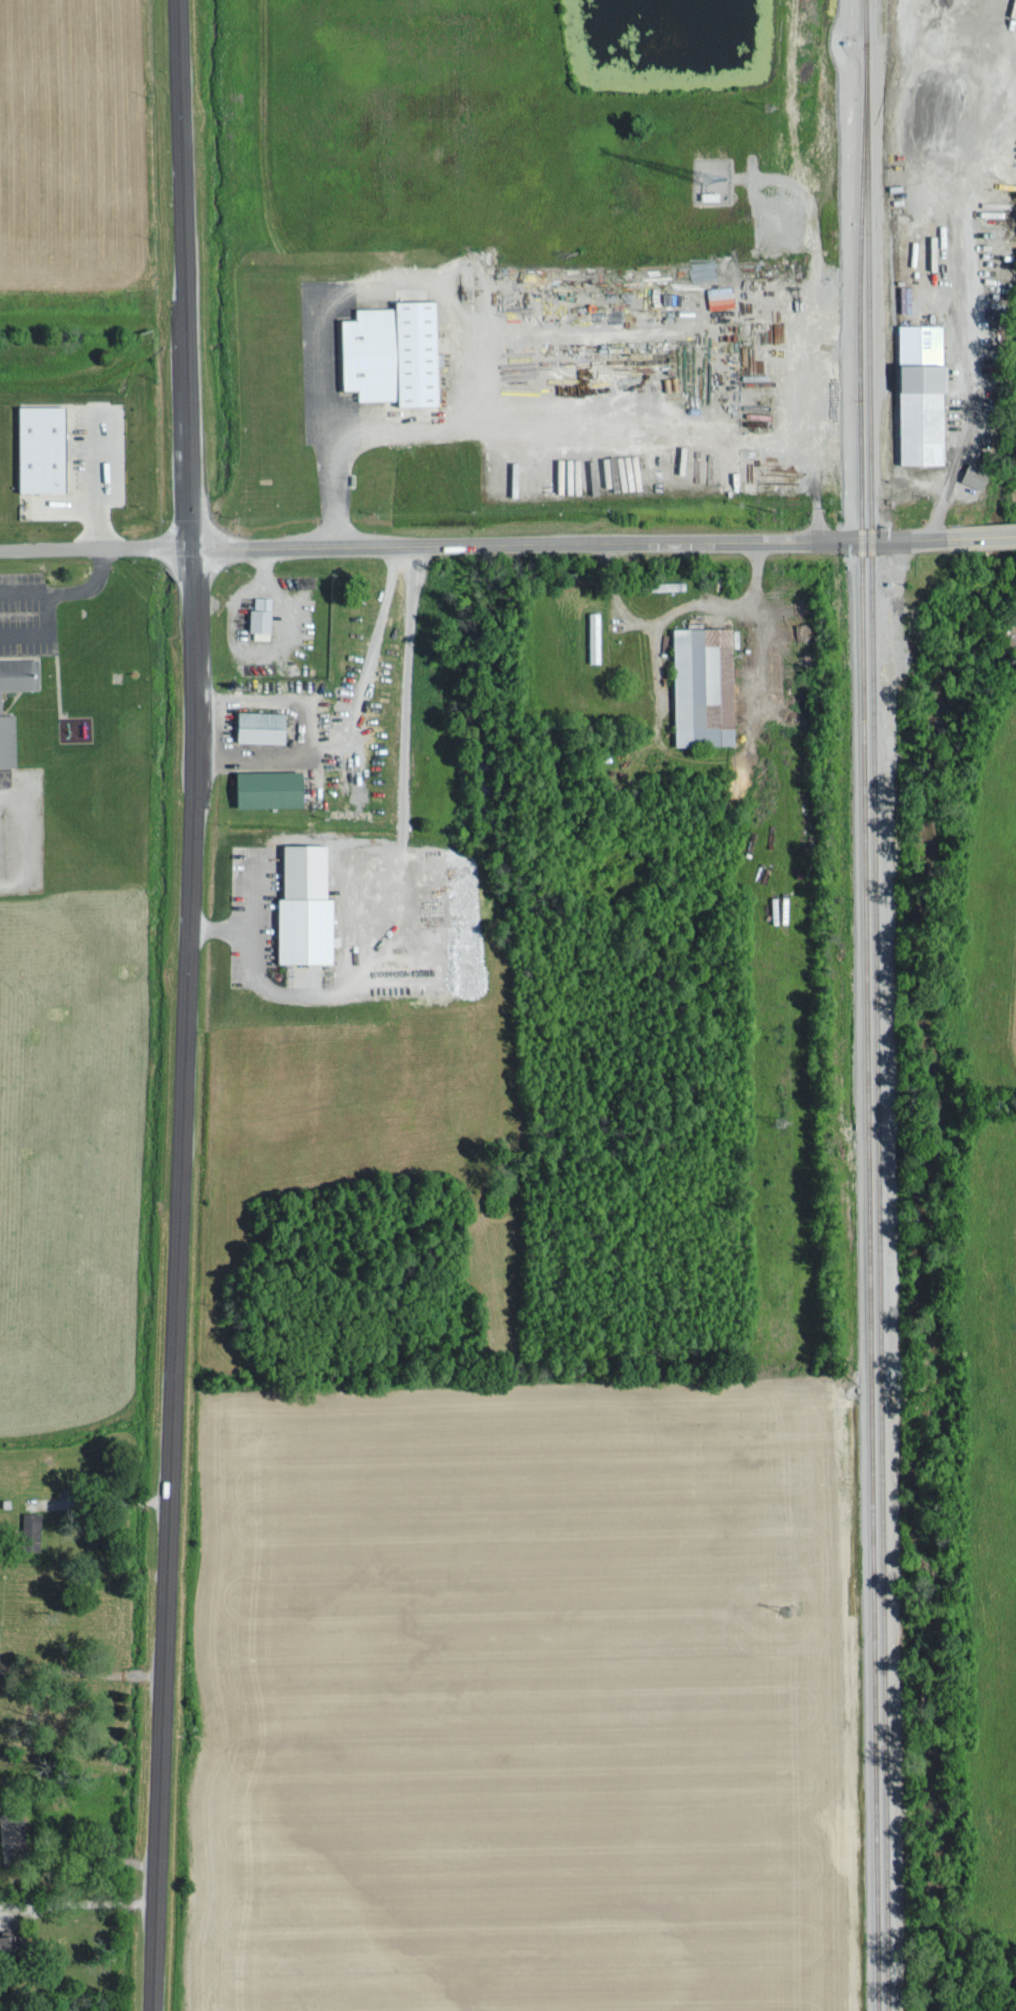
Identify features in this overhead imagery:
building: (711, 194)
building: (721, 295)
building: (395, 352)
building: (924, 393)
building: (44, 447)
building: (976, 475)
road: (988, 537)
road: (575, 542)
road: (95, 548)
building: (262, 616)
building: (595, 636)
building: (703, 681)
building: (0, 700)
building: (263, 726)
building: (270, 788)
building: (307, 929)
road: (185, 1005)
railway: (878, 1005)
building: (13, 1836)
building: (12, 1944)

